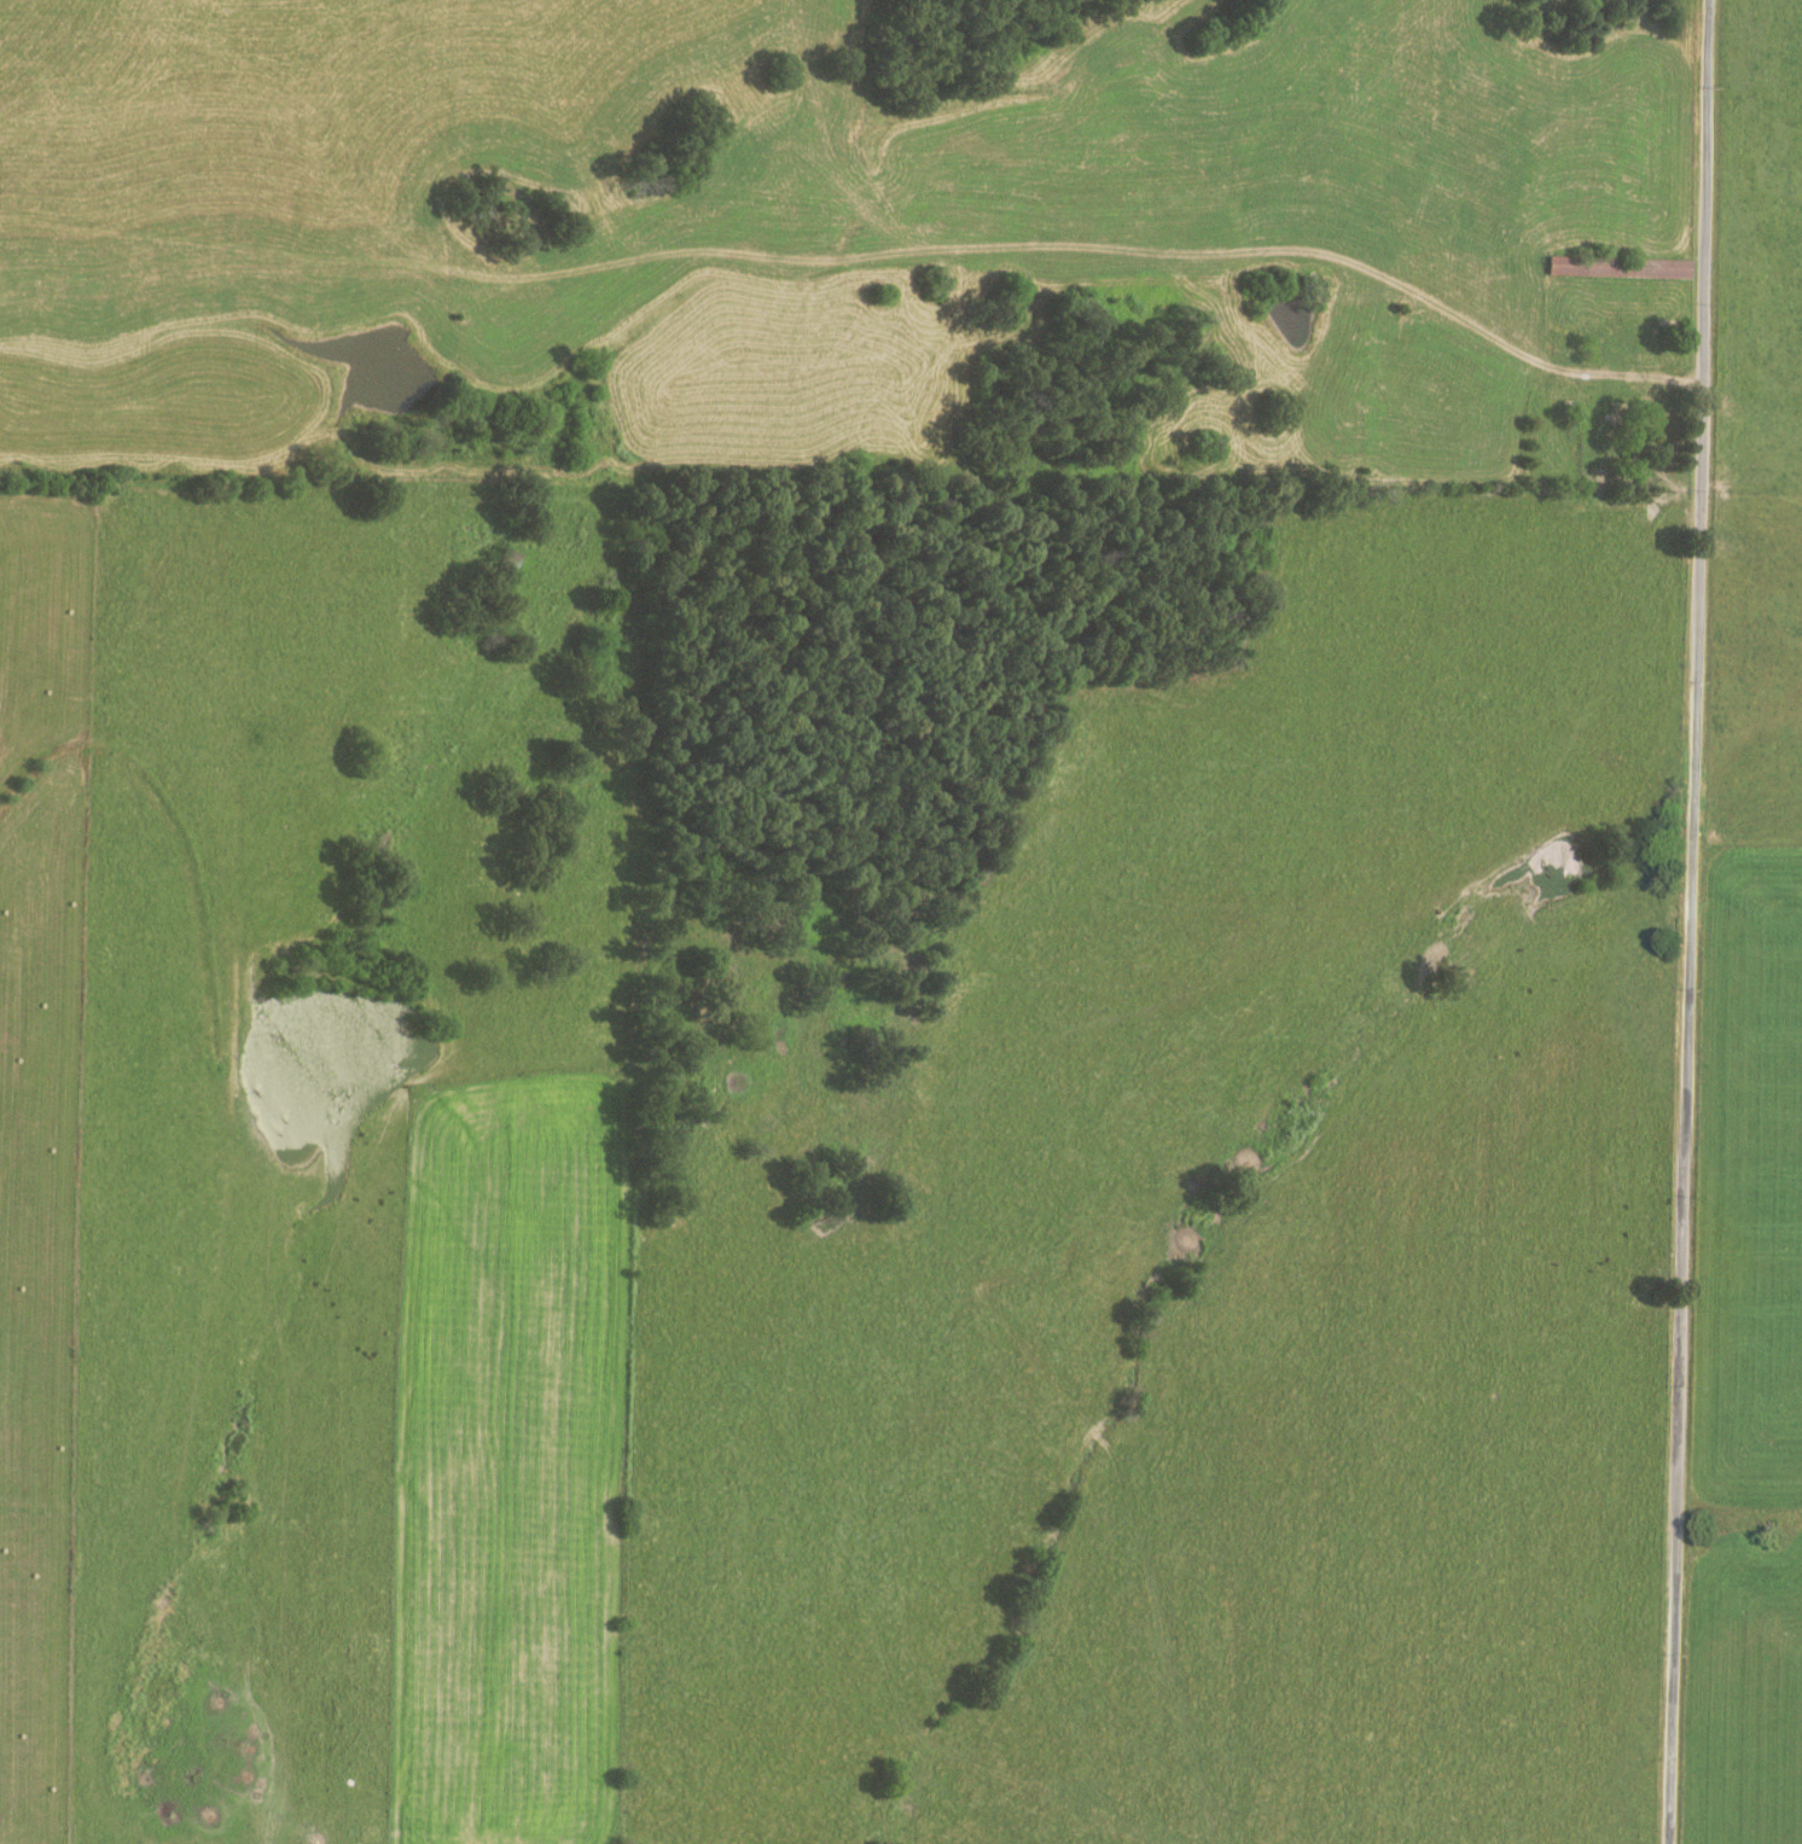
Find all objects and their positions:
building: (1612, 267)
road: (1688, 921)

